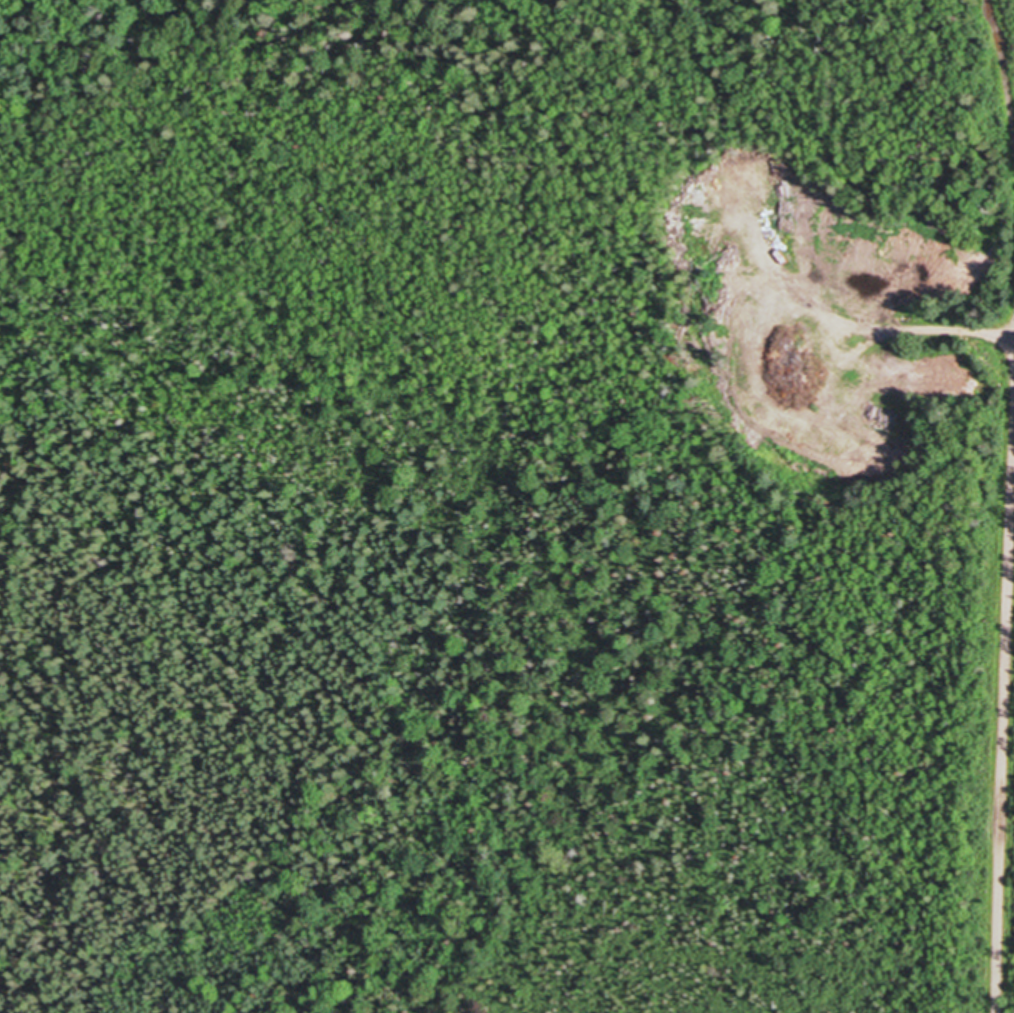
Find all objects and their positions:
road: (1002, 57)
park: (502, 446)
road: (1009, 813)

